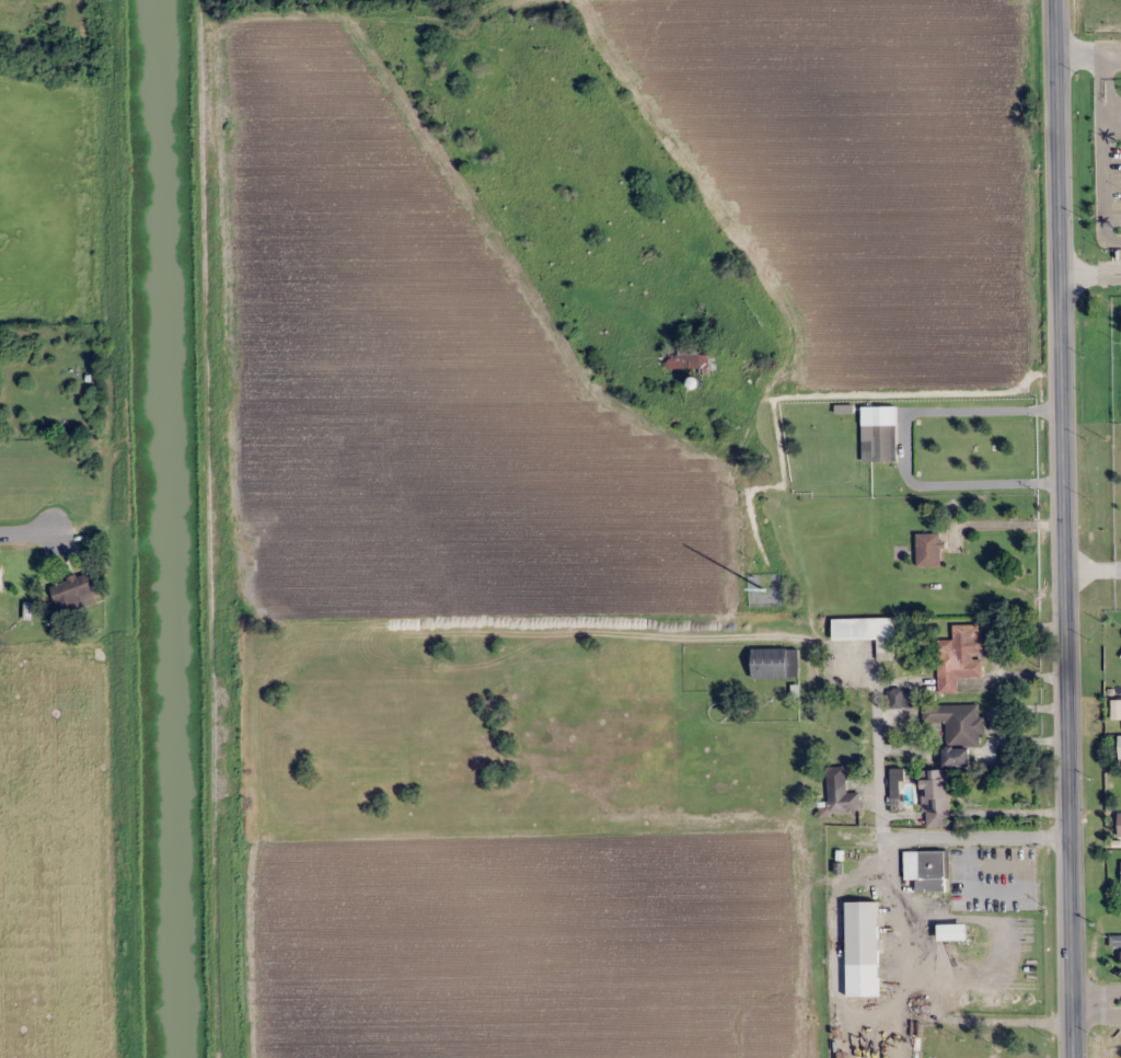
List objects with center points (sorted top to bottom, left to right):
building: (684, 358)
building: (880, 442)
road: (1071, 528)
river: (169, 529)
road: (31, 537)
building: (928, 549)
building: (0, 578)
building: (70, 591)
building: (867, 633)
building: (959, 657)
building: (774, 663)
building: (901, 699)
building: (1120, 738)
building: (949, 756)
building: (840, 792)
building: (925, 870)
building: (951, 932)
building: (862, 948)
road: (1100, 997)
building: (975, 1055)

